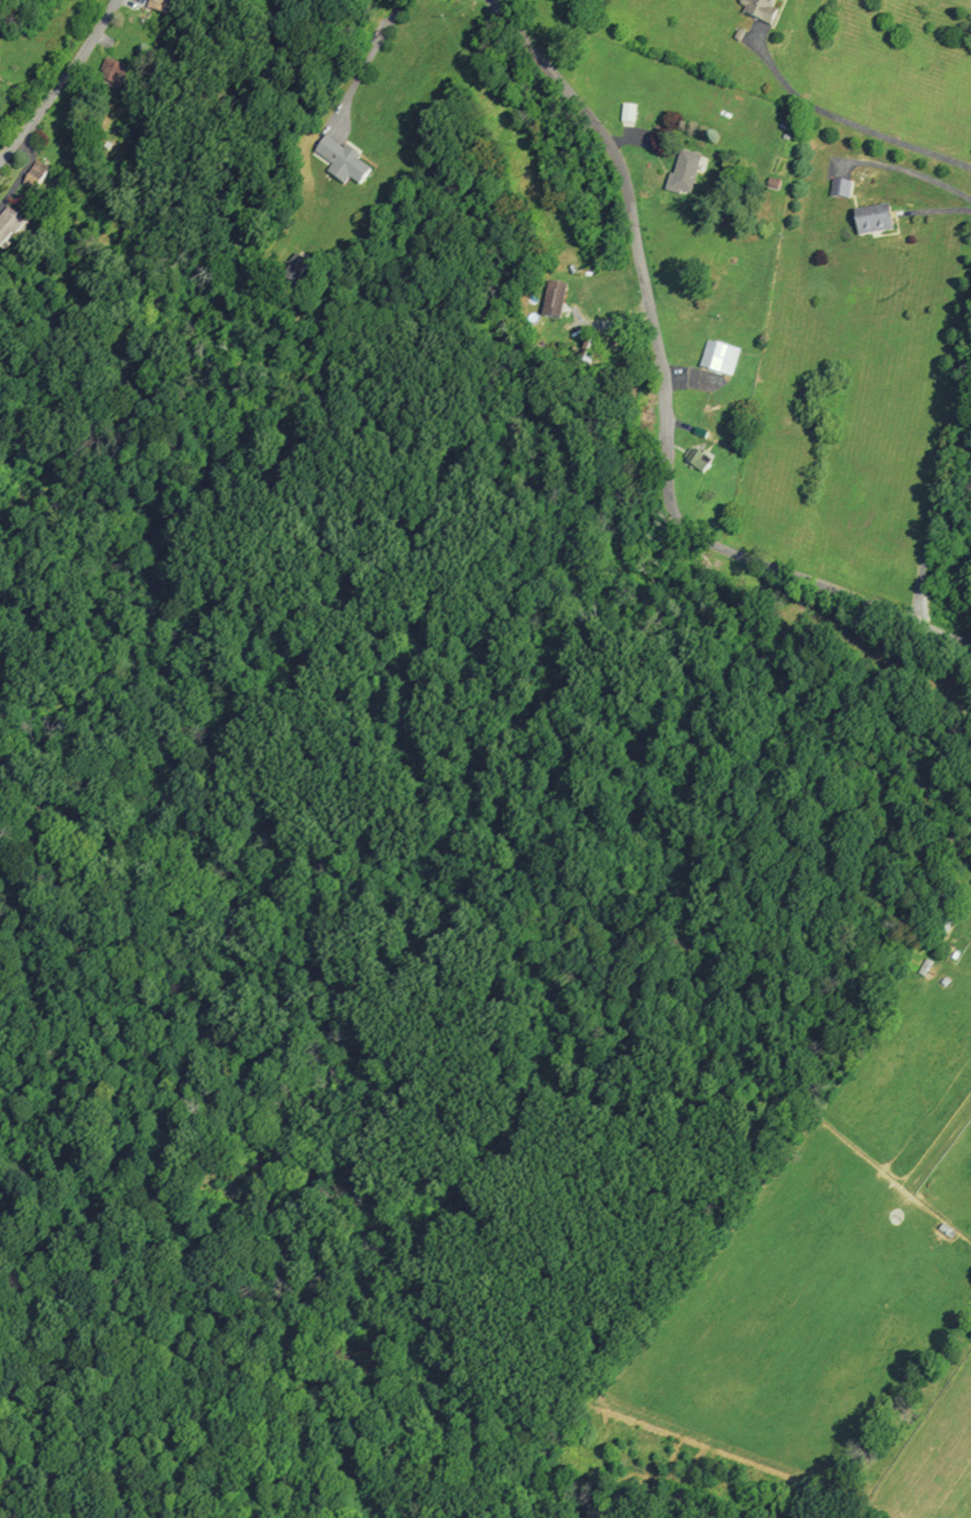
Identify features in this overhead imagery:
building: (161, 6)
building: (762, 9)
road: (365, 63)
building: (114, 71)
road: (60, 82)
building: (628, 116)
road: (848, 121)
road: (639, 142)
road: (4, 145)
building: (343, 161)
building: (38, 171)
road: (24, 172)
road: (908, 172)
building: (685, 174)
building: (843, 189)
road: (937, 211)
building: (877, 219)
building: (9, 226)
building: (296, 267)
building: (555, 299)
road: (608, 325)
building: (591, 351)
building: (721, 358)
road: (691, 384)
road: (664, 397)
road: (678, 424)
building: (703, 433)
building: (699, 459)
road: (941, 473)
building: (944, 924)
building: (926, 968)

